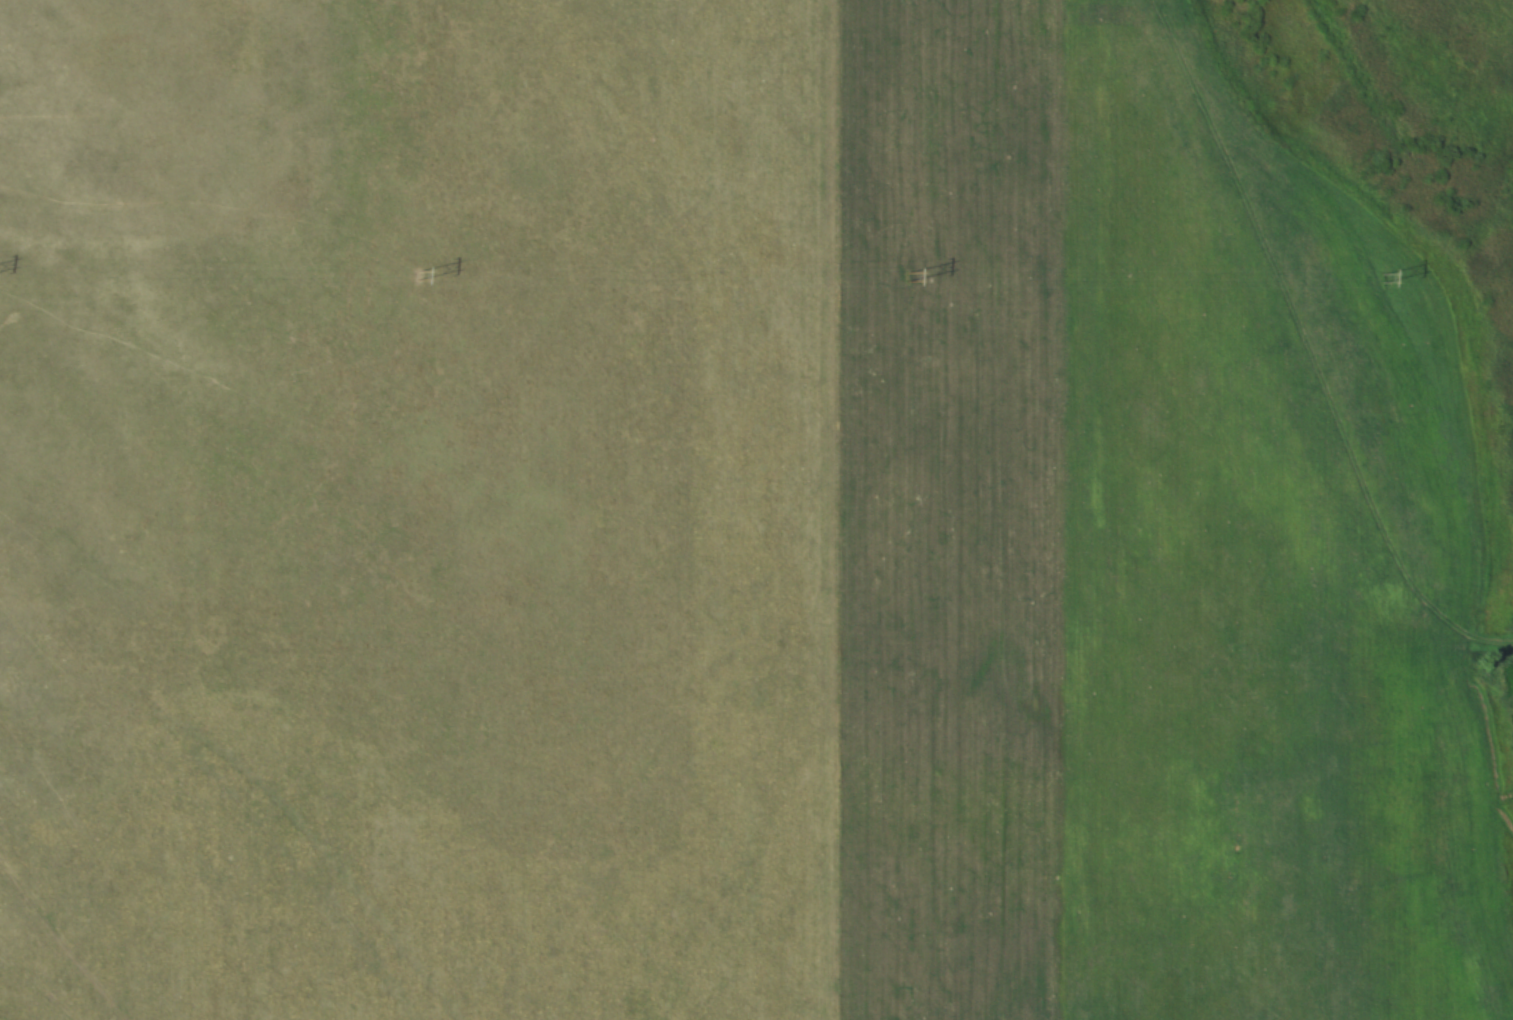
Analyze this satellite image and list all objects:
power tower: (418, 277)
power tower: (908, 279)
power tower: (1383, 280)
road: (1314, 350)

